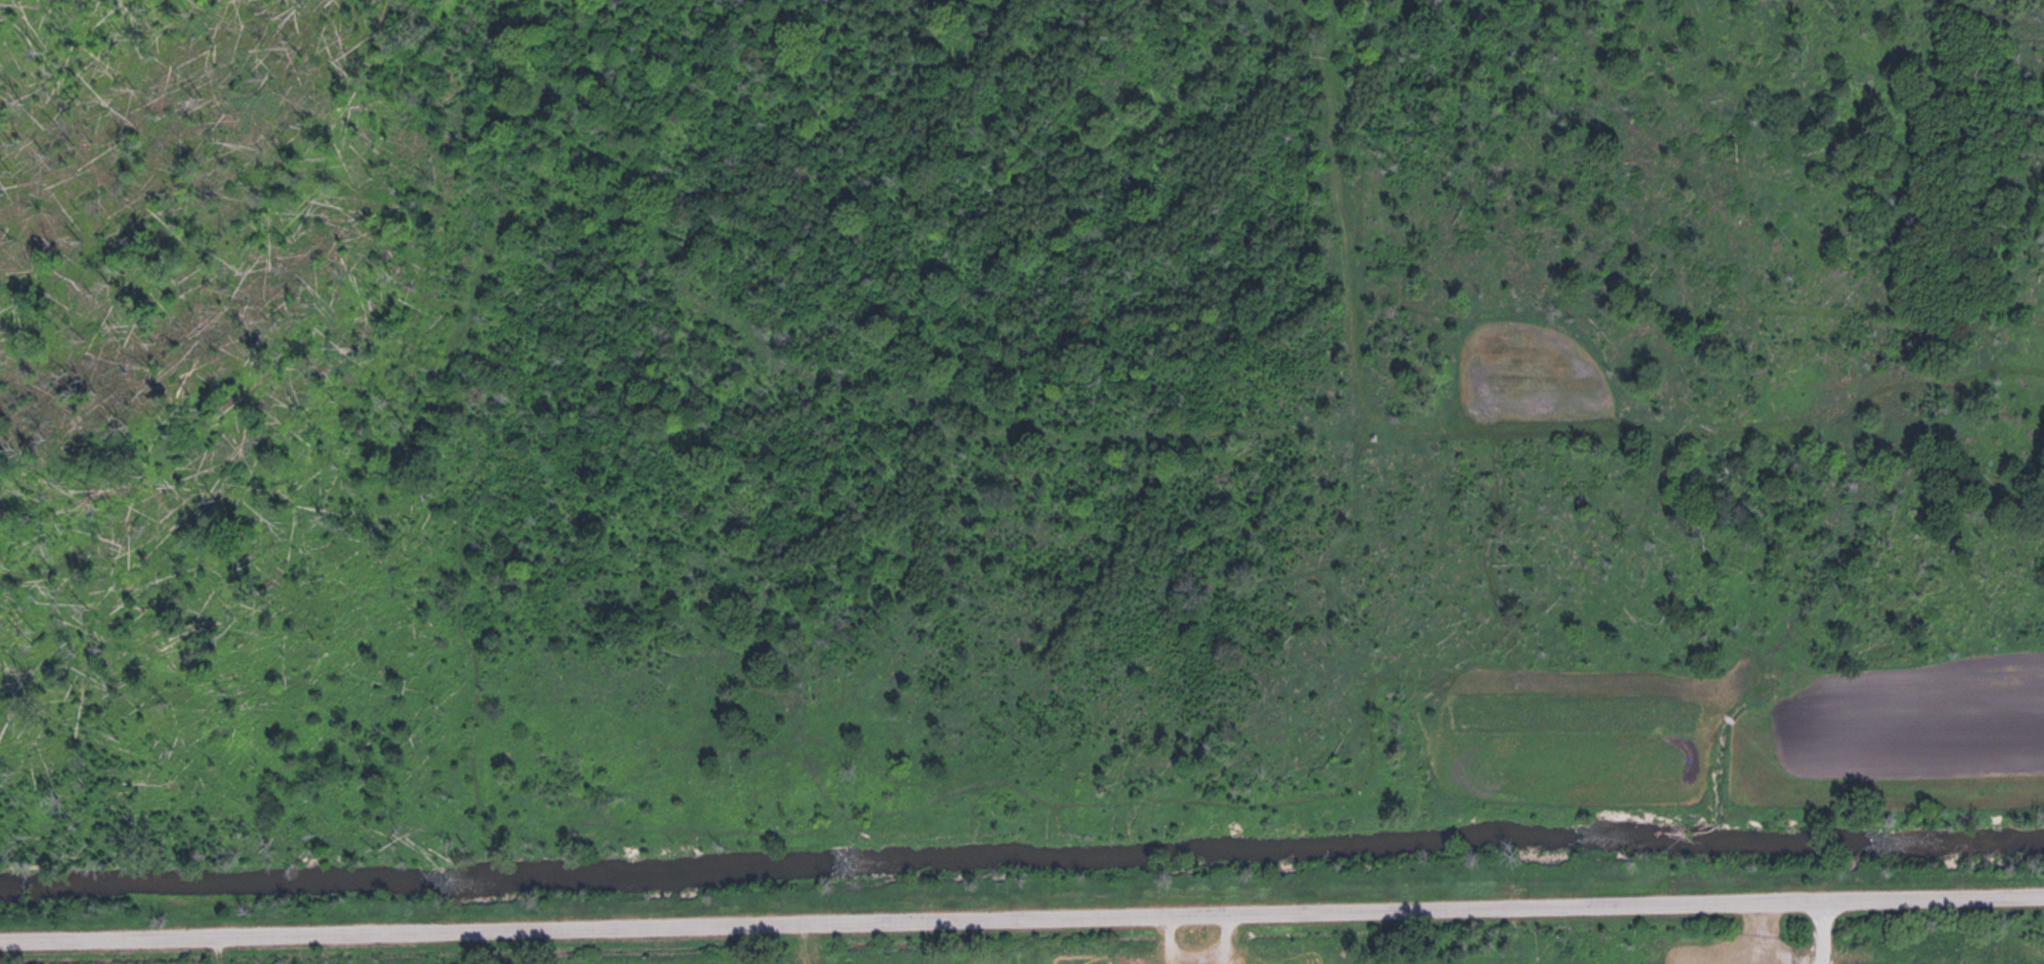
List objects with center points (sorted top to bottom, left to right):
river: (1022, 864)
road: (1022, 918)
road: (1822, 933)

